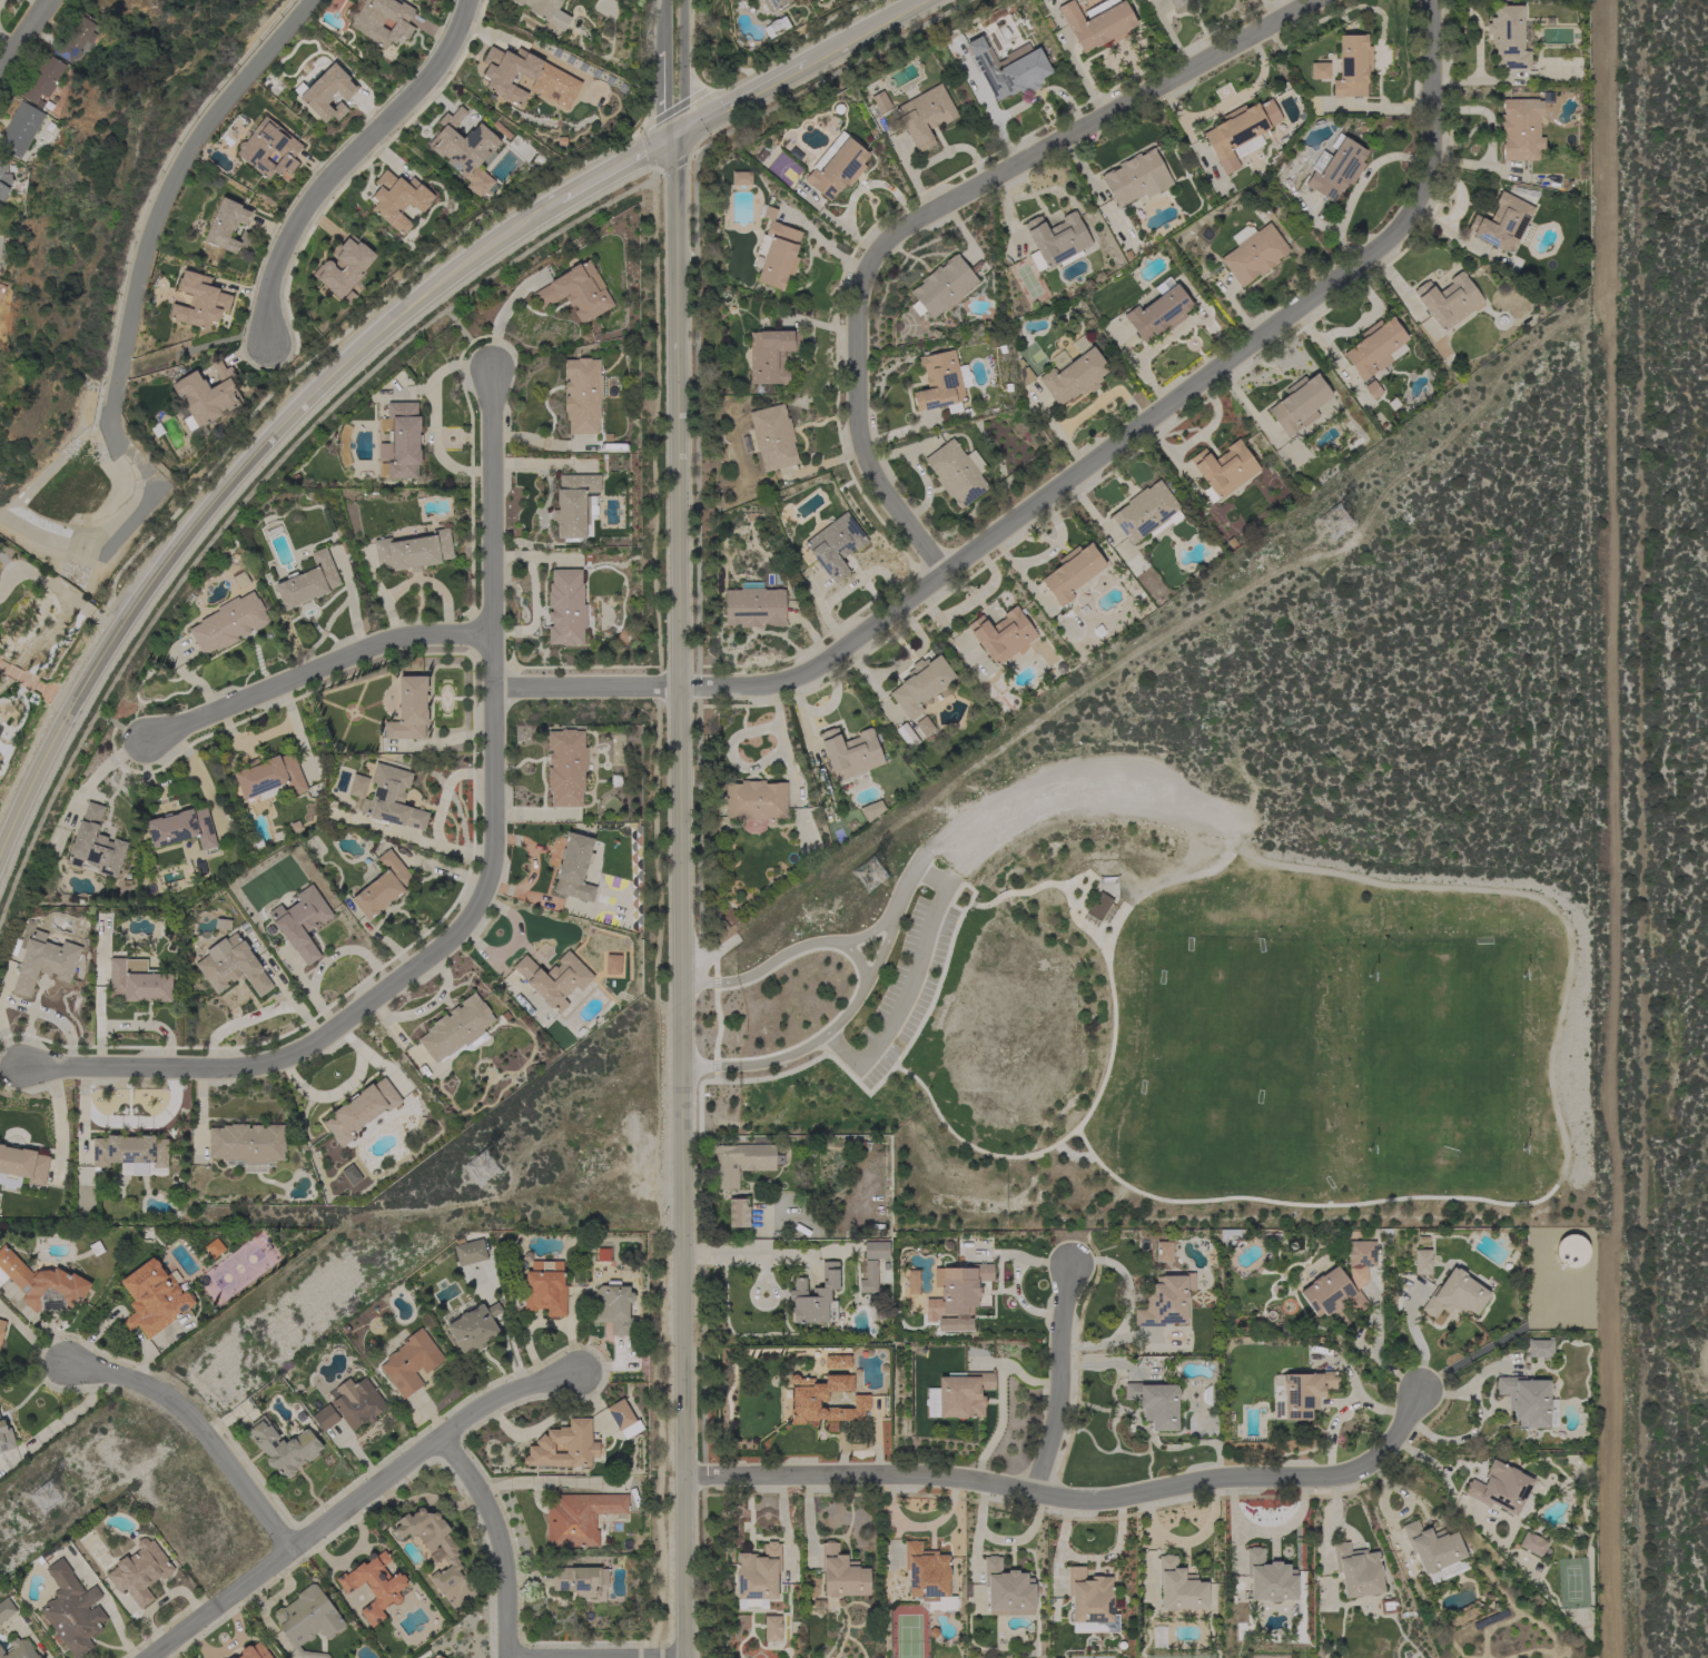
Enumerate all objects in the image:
building: (1177, 2)
building: (772, 4)
building: (541, 8)
building: (381, 20)
road: (663, 21)
building: (1097, 22)
road: (862, 30)
road: (24, 36)
building: (1510, 37)
building: (76, 40)
road: (791, 41)
building: (1351, 67)
road: (680, 69)
building: (1319, 70)
building: (1016, 72)
building: (546, 76)
building: (42, 79)
road: (662, 91)
building: (328, 93)
road: (741, 99)
building: (878, 101)
building: (925, 116)
road: (639, 127)
building: (1522, 128)
building: (20, 129)
building: (1240, 132)
traffic signals: (674, 138)
building: (268, 149)
building: (464, 150)
road: (344, 162)
building: (837, 167)
building: (1335, 168)
road: (612, 169)
building: (3, 177)
building: (1134, 177)
building: (741, 178)
building: (397, 199)
road: (932, 208)
building: (1501, 224)
building: (227, 226)
building: (1056, 238)
road: (694, 251)
building: (776, 253)
building: (1253, 253)
road: (139, 263)
building: (344, 266)
building: (941, 287)
building: (576, 292)
building: (1448, 300)
building: (198, 302)
building: (1158, 314)
building: (1375, 348)
building: (771, 355)
building: (1074, 372)
building: (941, 382)
building: (1372, 389)
building: (207, 394)
building: (582, 395)
building: (1299, 404)
road: (654, 425)
building: (772, 437)
building: (399, 442)
building: (1223, 470)
building: (956, 473)
road: (1070, 477)
road: (257, 483)
road: (227, 487)
building: (575, 506)
building: (1146, 512)
power tower: (1333, 524)
building: (835, 545)
building: (413, 552)
building: (1070, 572)
building: (308, 582)
road: (56, 590)
building: (753, 605)
building: (565, 608)
building: (228, 623)
building: (1001, 635)
road: (313, 672)
building: (920, 684)
road: (36, 687)
building: (408, 710)
building: (921, 724)
road: (265, 733)
building: (905, 736)
road: (437, 742)
building: (850, 752)
building: (565, 767)
road: (98, 768)
building: (268, 778)
road: (200, 779)
road: (152, 783)
building: (357, 786)
road: (443, 790)
building: (391, 799)
building: (754, 802)
building: (871, 810)
building: (181, 829)
building: (95, 845)
building: (317, 845)
road: (440, 846)
road: (1, 849)
road: (531, 867)
building: (574, 867)
power tower: (869, 877)
road: (929, 878)
park: (1240, 882)
road: (906, 884)
building: (382, 887)
road: (1068, 887)
road: (942, 889)
road: (1469, 889)
road: (481, 892)
road: (678, 897)
road: (970, 905)
building: (1098, 906)
building: (300, 922)
road: (868, 932)
road: (510, 944)
road: (879, 954)
road: (710, 957)
road: (326, 958)
building: (42, 959)
building: (230, 965)
building: (612, 965)
building: (553, 979)
building: (137, 981)
road: (713, 983)
road: (863, 983)
park: (1226, 983)
parking lot: (904, 988)
road: (908, 990)
road: (424, 1007)
road: (717, 1024)
building: (456, 1029)
road: (841, 1049)
road: (897, 1056)
road: (714, 1066)
park: (1449, 1067)
road: (714, 1077)
park: (1227, 1087)
building: (361, 1111)
road: (1076, 1125)
building: (858, 1145)
building: (247, 1146)
building: (130, 1154)
road: (1070, 1155)
building: (742, 1162)
building: (21, 1167)
power tower: (481, 1168)
building: (348, 1176)
road: (1301, 1204)
building: (738, 1213)
building: (214, 1249)
building: (876, 1250)
building: (1162, 1251)
building: (1570, 1251)
building: (470, 1252)
building: (1360, 1253)
building: (602, 1254)
road: (735, 1254)
building: (1421, 1262)
building: (868, 1277)
building: (912, 1282)
building: (42, 1285)
building: (544, 1289)
building: (956, 1294)
building: (1331, 1294)
building: (1454, 1295)
building: (814, 1297)
building: (152, 1299)
building: (1165, 1301)
building: (613, 1309)
building: (473, 1328)
building: (1, 1330)
building: (1540, 1348)
road: (1375, 1352)
building: (409, 1362)
building: (838, 1365)
road: (1059, 1382)
building: (1300, 1393)
building: (958, 1395)
building: (825, 1401)
building: (1528, 1401)
building: (1155, 1403)
building: (351, 1408)
building: (623, 1420)
road: (198, 1430)
building: (6, 1438)
building: (566, 1443)
building: (283, 1447)
road: (1442, 1482)
building: (1501, 1489)
power tower: (45, 1498)
road: (353, 1500)
road: (1067, 1501)
building: (580, 1518)
road: (490, 1540)
building: (432, 1543)
building: (1532, 1543)
building: (1434, 1551)
building: (1356, 1570)
building: (139, 1571)
building: (841, 1572)
building: (925, 1572)
building: (757, 1577)
building: (1268, 1578)
building: (575, 1580)
building: (373, 1585)
building: (1178, 1587)
building: (1007, 1588)
building: (1090, 1601)
building: (6, 1609)
building: (71, 1610)
building: (307, 1619)
building: (771, 1628)
building: (19, 1649)
building: (254, 1651)
building: (437, 1657)
building: (445, 1657)
road: (668, 1657)

